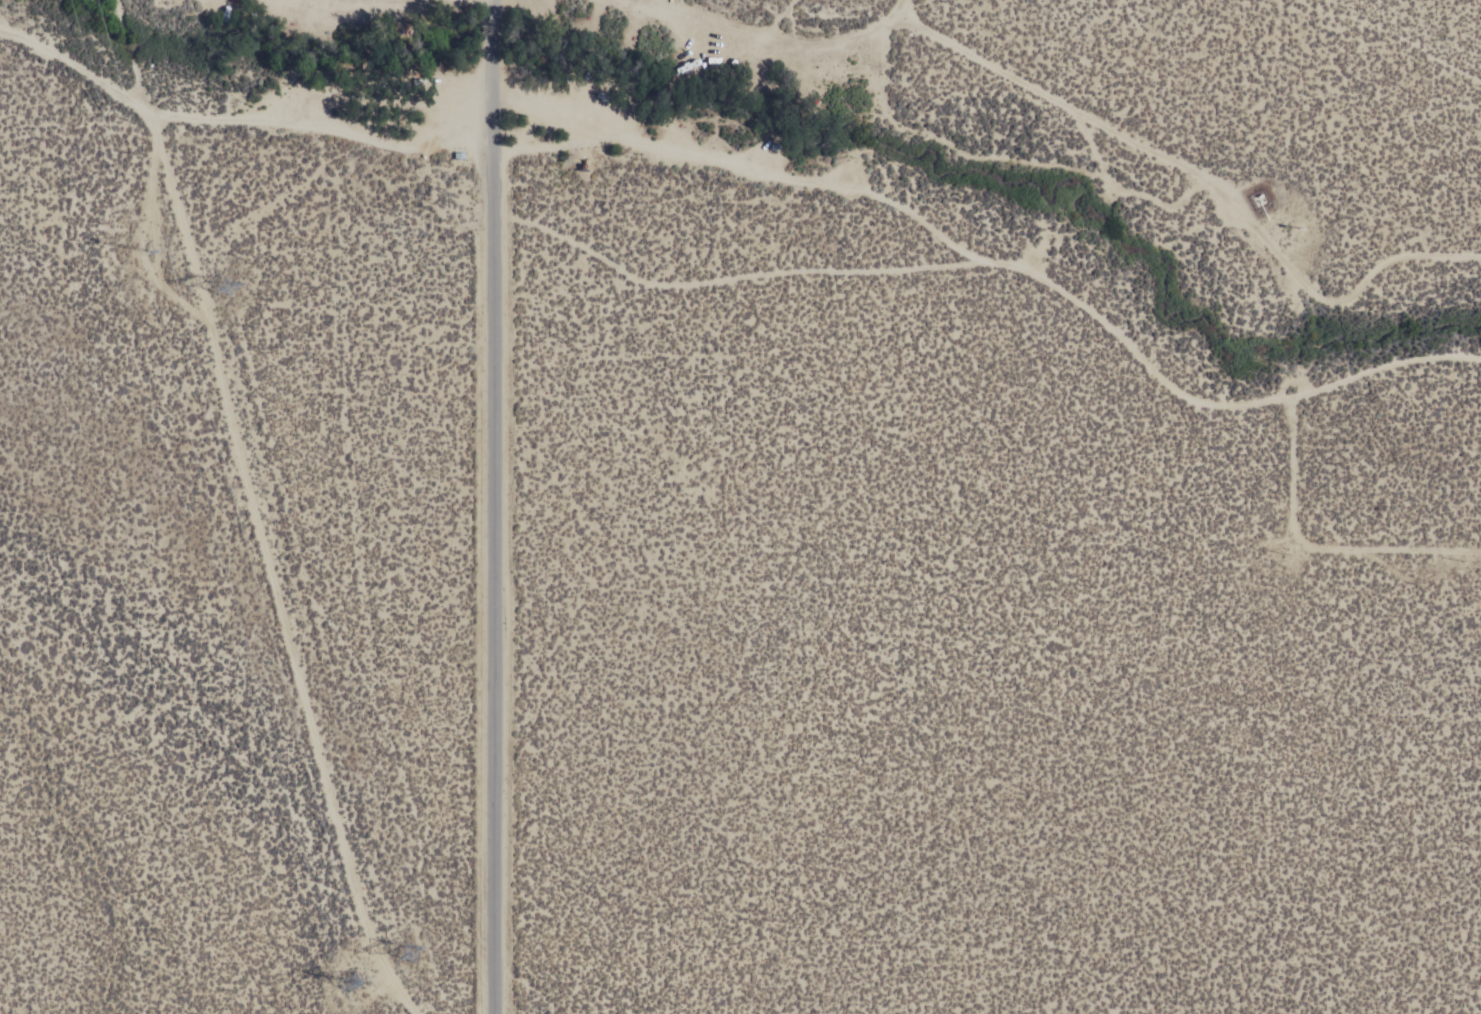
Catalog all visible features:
road: (353, 1)
road: (1068, 105)
road: (237, 113)
building: (456, 153)
road: (740, 165)
power tower: (150, 238)
road: (1007, 261)
power tower: (225, 270)
road: (492, 506)
road: (273, 569)
power tower: (402, 946)
power tower: (341, 976)

